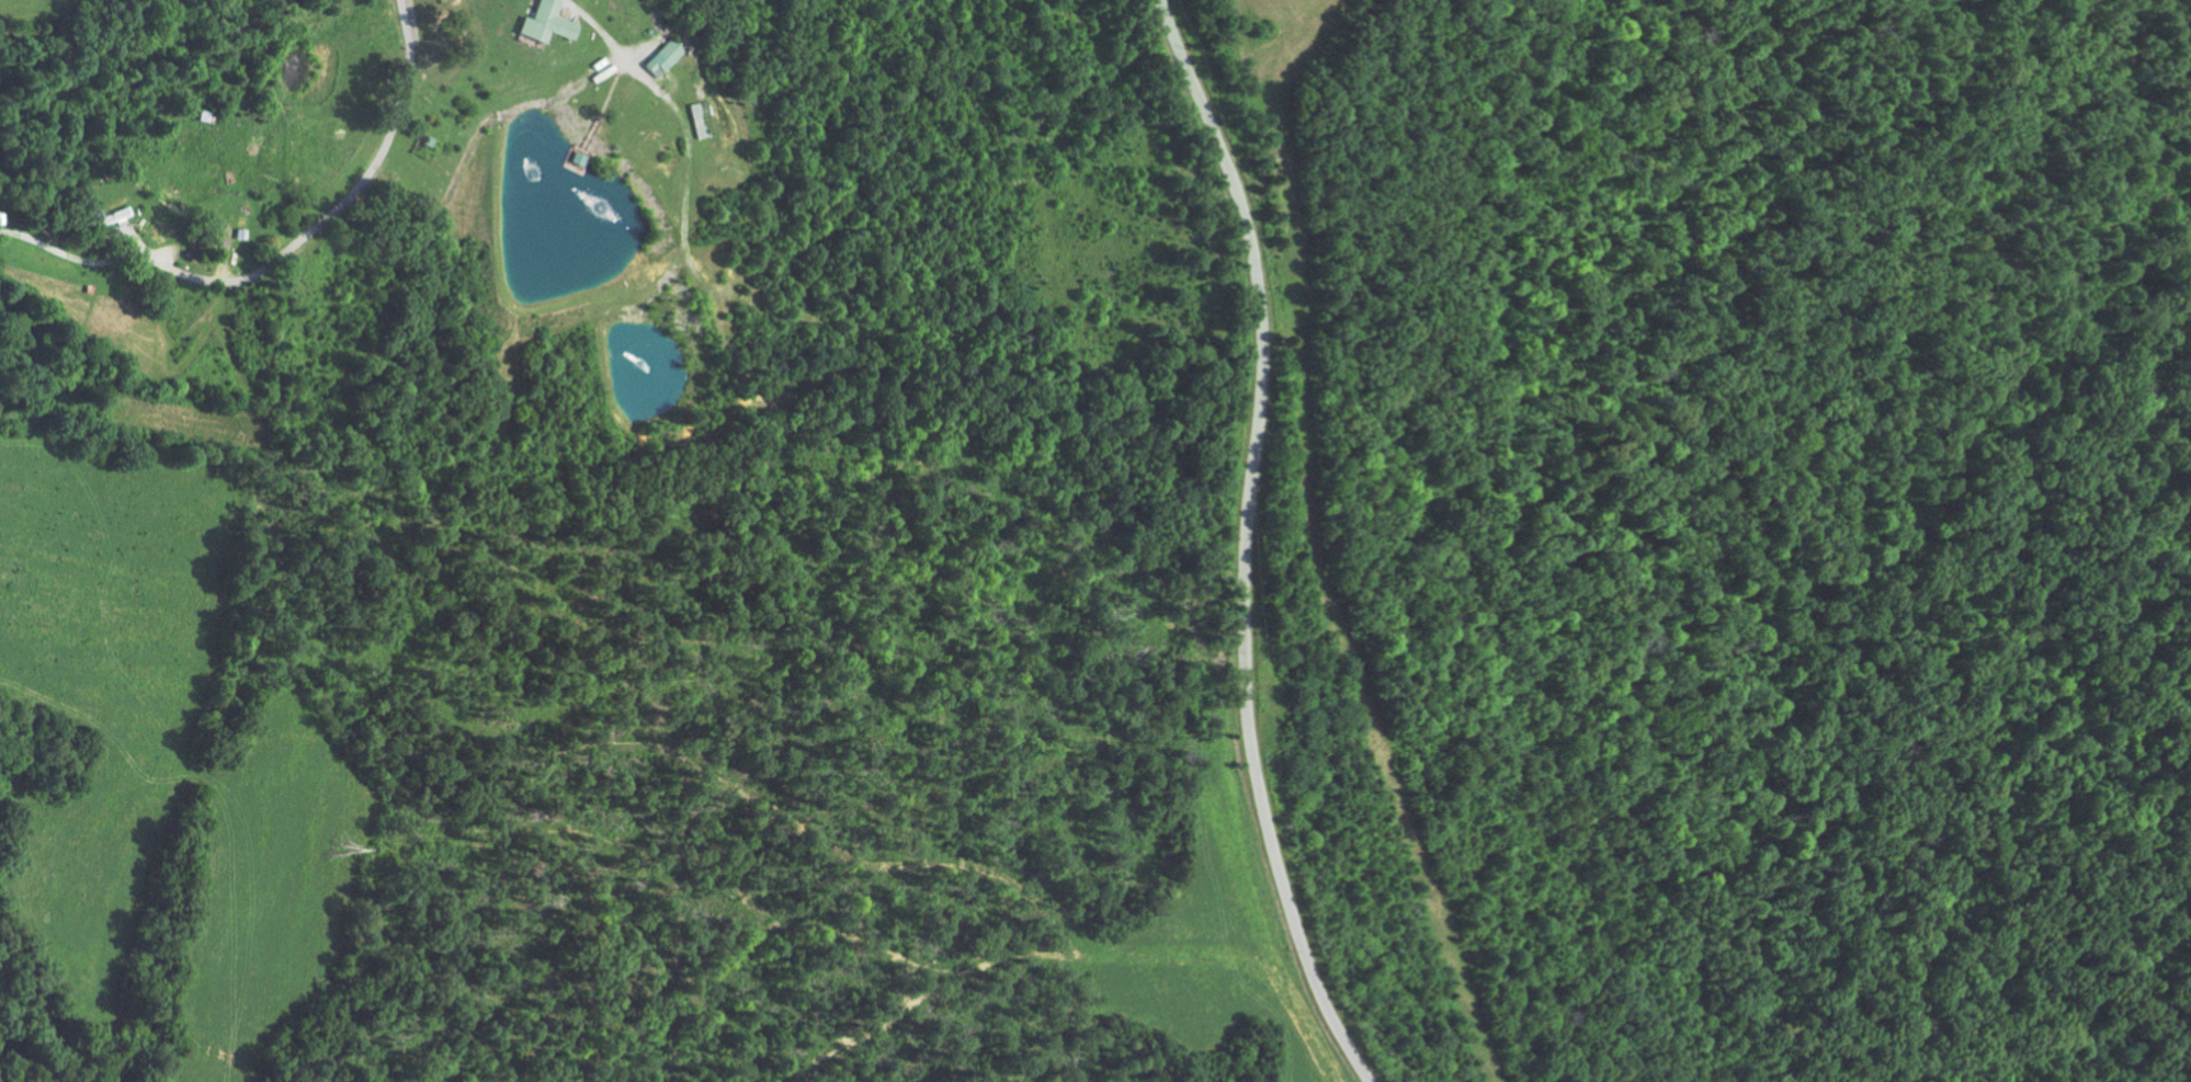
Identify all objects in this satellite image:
building: (550, 22)
building: (669, 57)
road: (357, 193)
road: (1245, 544)

